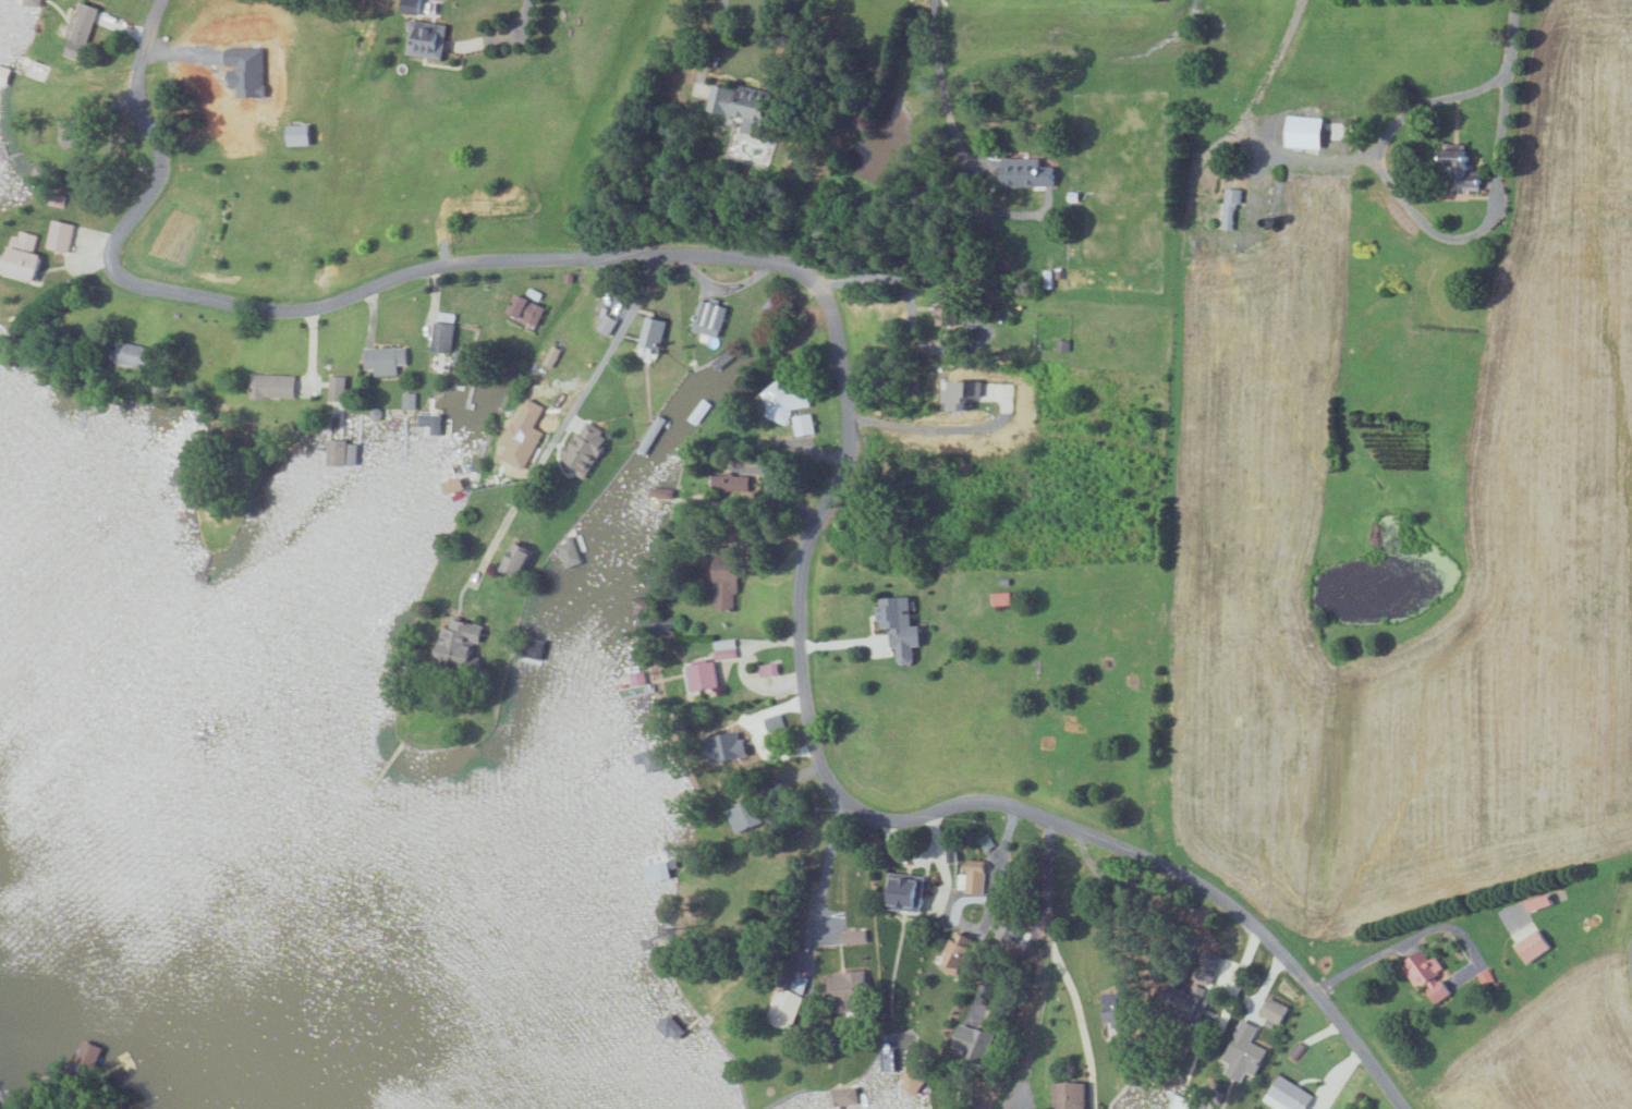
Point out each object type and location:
building: (29, 2)
building: (410, 10)
building: (80, 31)
road: (1511, 32)
building: (425, 40)
building: (3, 76)
road: (942, 87)
building: (740, 106)
building: (72, 132)
building: (1304, 132)
building: (1459, 172)
building: (1025, 173)
building: (1230, 206)
road: (1411, 216)
building: (59, 234)
building: (21, 255)
building: (946, 307)
building: (524, 310)
building: (708, 317)
building: (606, 324)
building: (651, 331)
building: (442, 336)
building: (130, 353)
building: (459, 357)
building: (382, 359)
road: (605, 359)
building: (271, 385)
building: (336, 387)
road: (841, 389)
building: (963, 391)
building: (409, 400)
building: (790, 406)
building: (698, 410)
building: (429, 423)
building: (520, 440)
building: (583, 448)
building: (341, 452)
building: (726, 486)
building: (661, 491)
building: (571, 549)
building: (515, 558)
building: (724, 577)
building: (1000, 597)
building: (899, 625)
building: (458, 639)
building: (724, 648)
building: (767, 669)
building: (703, 675)
building: (647, 759)
building: (744, 815)
building: (657, 870)
road: (1049, 870)
road: (825, 879)
building: (971, 879)
building: (904, 891)
building: (1538, 902)
building: (853, 936)
building: (1532, 946)
building: (957, 952)
building: (1426, 974)
building: (845, 990)
building: (787, 1002)
building: (1185, 1003)
building: (1117, 1009)
building: (1272, 1010)
road: (1080, 1012)
building: (972, 1043)
building: (1243, 1052)
building: (1070, 1095)
building: (1287, 1095)
building: (844, 1096)
building: (5, 1099)
building: (1181, 1102)

